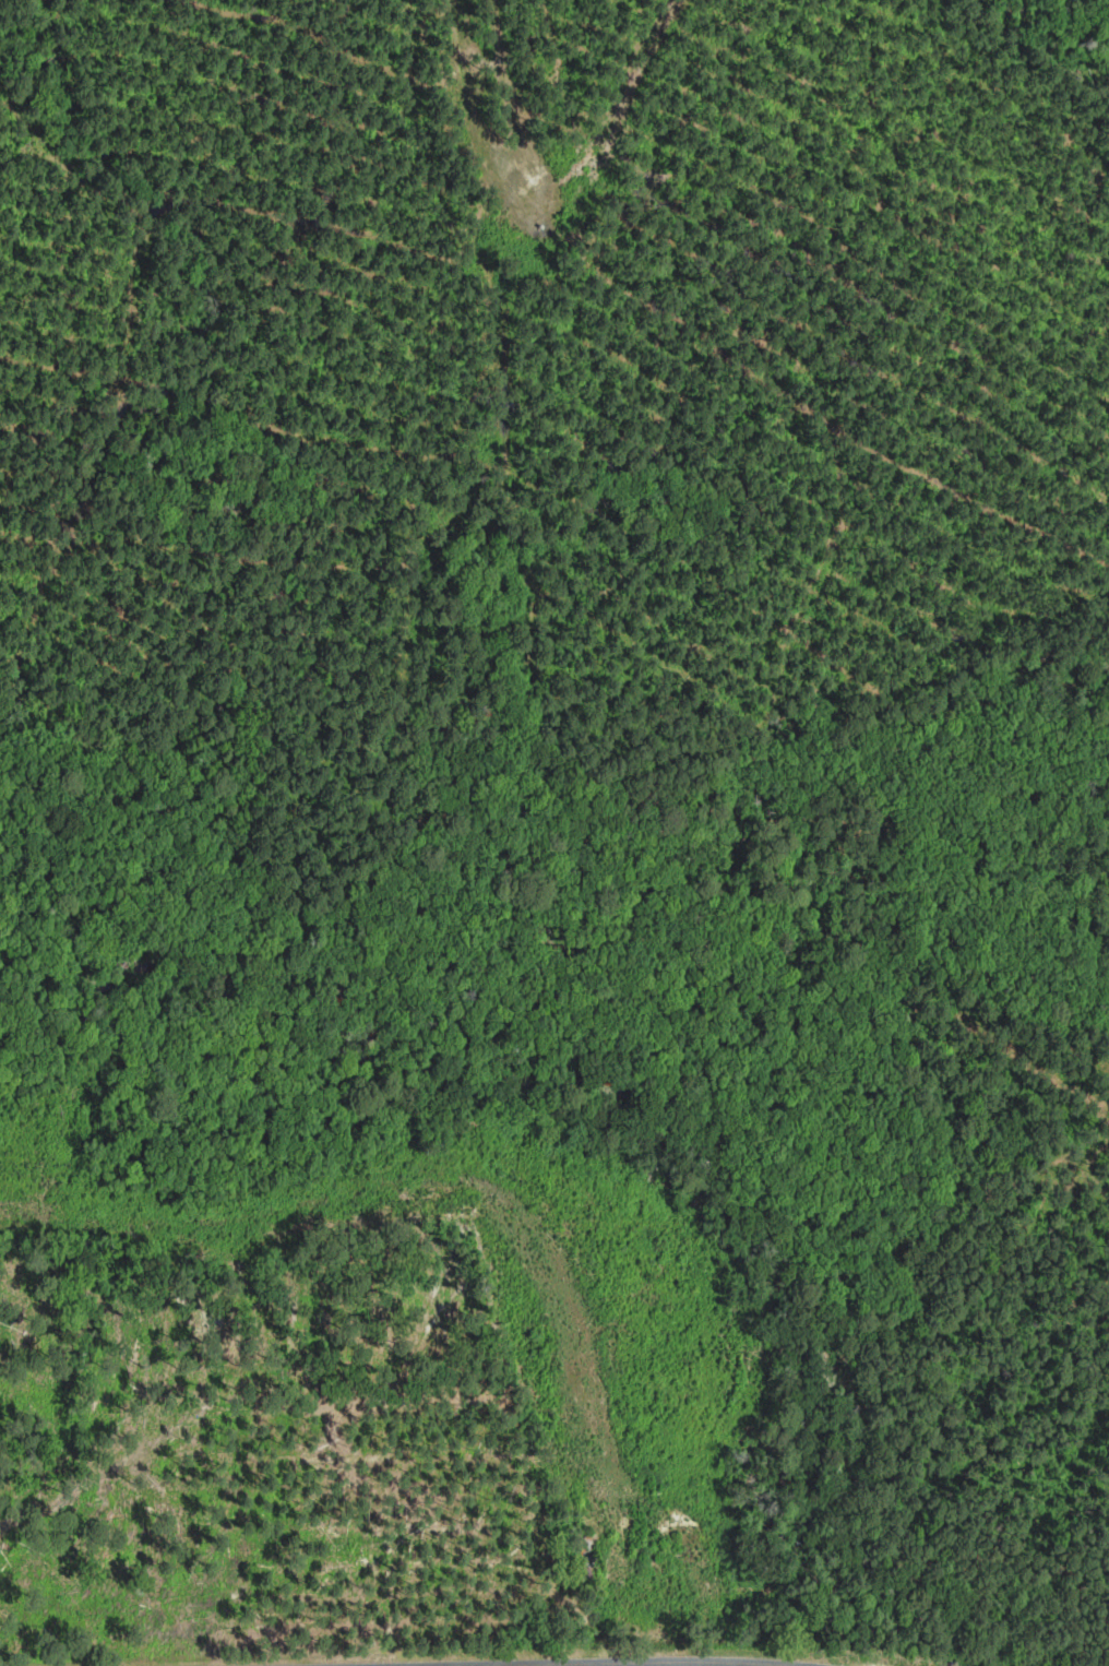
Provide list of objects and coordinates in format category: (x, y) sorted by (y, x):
road: (661, 1662)

